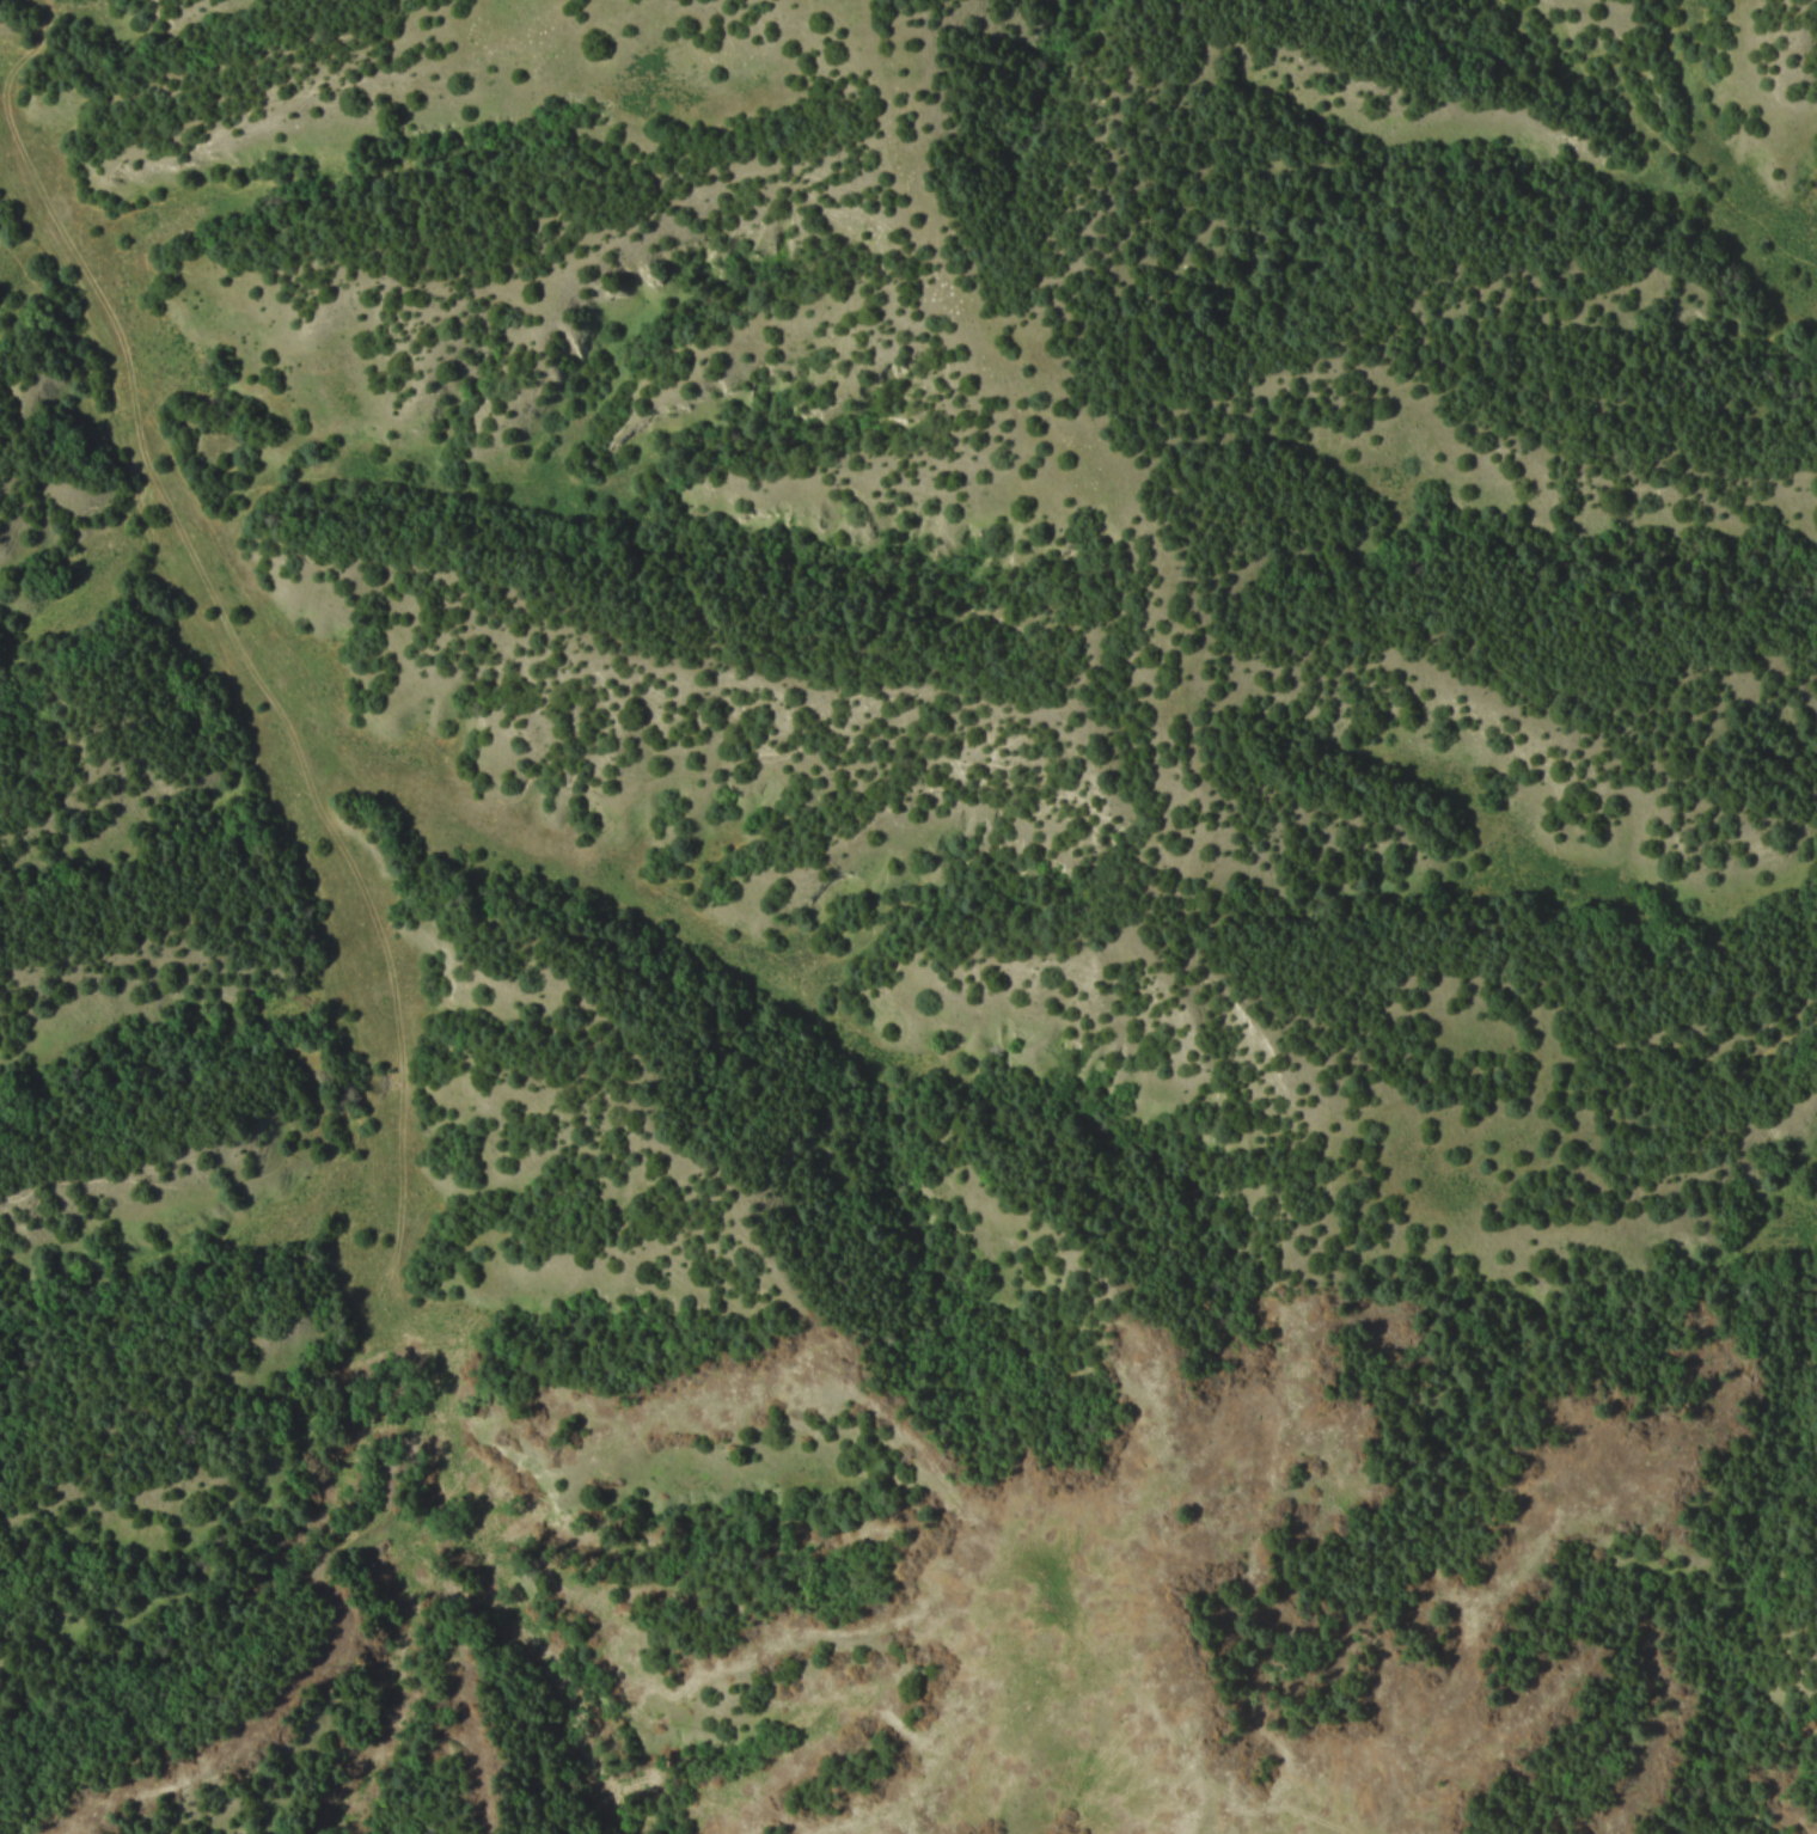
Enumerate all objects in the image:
road: (244, 647)

